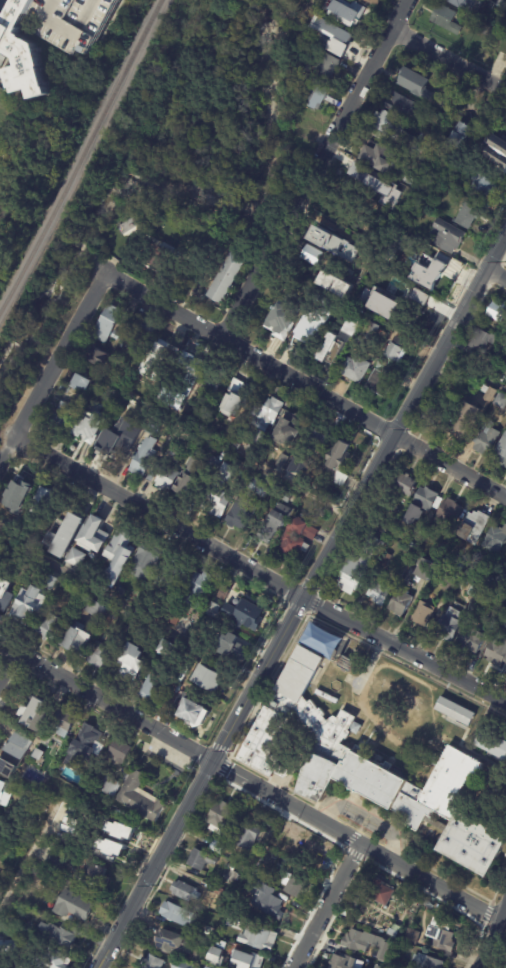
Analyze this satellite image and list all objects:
building: (347, 1)
building: (374, 2)
building: (464, 3)
building: (500, 5)
building: (352, 16)
building: (445, 19)
building: (488, 32)
building: (52, 36)
building: (334, 37)
road: (449, 61)
building: (307, 67)
building: (325, 67)
building: (414, 84)
road: (209, 85)
building: (311, 93)
building: (400, 106)
building: (432, 119)
building: (397, 135)
building: (463, 138)
building: (490, 143)
railway: (82, 152)
building: (502, 157)
building: (378, 158)
road: (314, 168)
building: (484, 186)
building: (384, 191)
park: (94, 199)
building: (468, 217)
building: (124, 233)
building: (448, 237)
building: (334, 246)
building: (311, 256)
building: (158, 257)
power tower: (505, 261)
road: (495, 272)
building: (227, 280)
building: (430, 281)
building: (337, 285)
building: (383, 299)
building: (498, 312)
building: (286, 316)
building: (107, 324)
building: (492, 326)
building: (307, 329)
building: (145, 331)
road: (448, 331)
building: (371, 333)
building: (114, 336)
building: (481, 341)
building: (339, 345)
building: (396, 350)
building: (97, 358)
building: (155, 360)
road: (52, 368)
building: (355, 370)
road: (471, 370)
building: (180, 381)
building: (210, 382)
building: (75, 384)
building: (381, 384)
road: (305, 385)
building: (489, 394)
building: (236, 399)
building: (500, 401)
building: (266, 413)
building: (431, 415)
building: (62, 416)
building: (465, 422)
building: (88, 427)
building: (151, 429)
building: (288, 430)
power tower: (410, 430)
building: (134, 437)
building: (320, 437)
building: (485, 439)
building: (122, 452)
building: (502, 454)
building: (142, 458)
building: (335, 461)
building: (281, 462)
building: (212, 463)
building: (300, 466)
building: (187, 478)
building: (165, 479)
building: (404, 484)
building: (22, 485)
building: (259, 488)
building: (218, 494)
building: (286, 496)
building: (43, 501)
building: (421, 506)
building: (241, 512)
building: (449, 513)
building: (274, 523)
building: (378, 527)
building: (473, 527)
building: (64, 535)
building: (92, 535)
building: (297, 538)
building: (495, 540)
building: (411, 546)
building: (442, 547)
building: (117, 556)
building: (76, 558)
building: (385, 560)
building: (146, 561)
building: (447, 562)
building: (360, 567)
building: (459, 569)
building: (425, 570)
road: (258, 573)
building: (483, 579)
building: (500, 581)
building: (172, 582)
building: (465, 582)
building: (449, 583)
power tower: (323, 588)
building: (121, 590)
building: (197, 590)
building: (5, 593)
building: (475, 593)
building: (225, 594)
building: (379, 594)
building: (400, 603)
building: (28, 605)
road: (129, 606)
building: (215, 607)
building: (96, 609)
building: (113, 614)
building: (241, 615)
building: (423, 615)
building: (1, 618)
building: (174, 618)
building: (450, 623)
building: (494, 625)
building: (51, 627)
building: (431, 627)
building: (76, 638)
building: (473, 638)
building: (321, 640)
building: (166, 648)
building: (236, 648)
building: (497, 652)
building: (101, 655)
building: (131, 662)
building: (346, 664)
road: (8, 667)
building: (207, 679)
building: (154, 688)
road: (245, 700)
road: (105, 701)
building: (455, 708)
road: (93, 713)
building: (193, 713)
building: (35, 715)
building: (62, 723)
building: (87, 741)
building: (489, 745)
power tower: (232, 751)
building: (118, 752)
building: (14, 753)
building: (37, 755)
building: (363, 766)
building: (65, 767)
building: (109, 787)
building: (5, 793)
building: (504, 793)
building: (31, 795)
building: (139, 798)
building: (219, 818)
building: (28, 819)
road: (363, 819)
building: (119, 830)
building: (247, 835)
building: (113, 837)
road: (354, 841)
building: (110, 847)
building: (219, 847)
building: (269, 855)
building: (204, 859)
road: (24, 860)
building: (56, 862)
building: (232, 867)
building: (262, 869)
building: (97, 873)
power tower: (156, 885)
building: (296, 886)
building: (188, 891)
building: (378, 893)
building: (270, 899)
building: (76, 905)
road: (326, 906)
building: (439, 909)
building: (181, 914)
building: (237, 924)
building: (210, 928)
building: (393, 930)
building: (62, 934)
building: (439, 935)
building: (411, 936)
road: (491, 936)
building: (260, 938)
building: (357, 941)
building: (174, 942)
building: (11, 946)
building: (401, 949)
building: (219, 956)
building: (141, 958)
building: (249, 959)
building: (56, 961)
building: (154, 962)
building: (341, 962)
building: (425, 962)
building: (184, 965)
building: (205, 967)

